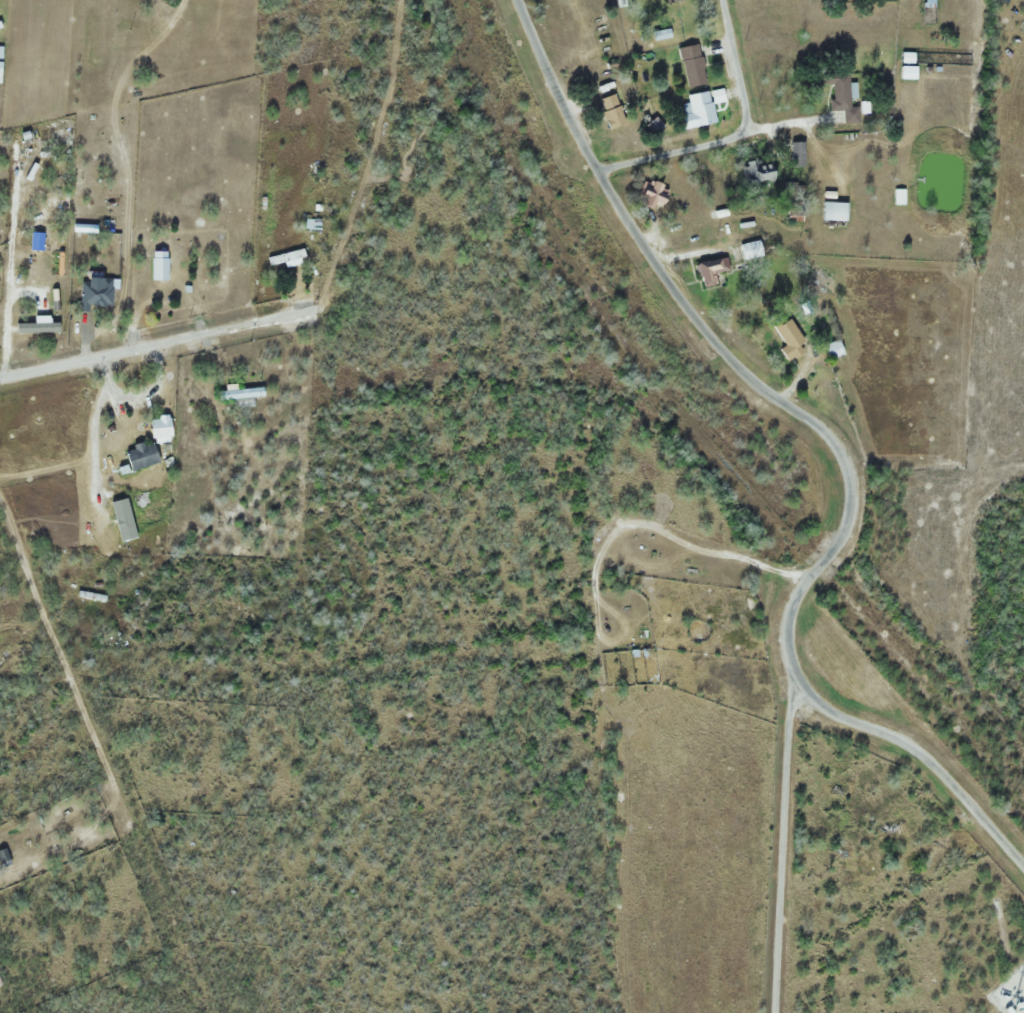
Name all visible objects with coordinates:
building: (672, 0)
building: (691, 65)
building: (840, 96)
building: (610, 111)
building: (697, 111)
road: (736, 135)
building: (795, 154)
building: (758, 171)
building: (652, 194)
building: (831, 211)
building: (310, 225)
building: (284, 259)
building: (158, 265)
building: (709, 271)
building: (94, 294)
building: (788, 340)
road: (156, 341)
road: (719, 342)
building: (831, 349)
building: (239, 393)
railway: (277, 407)
building: (139, 455)
road: (918, 750)
road: (784, 840)

